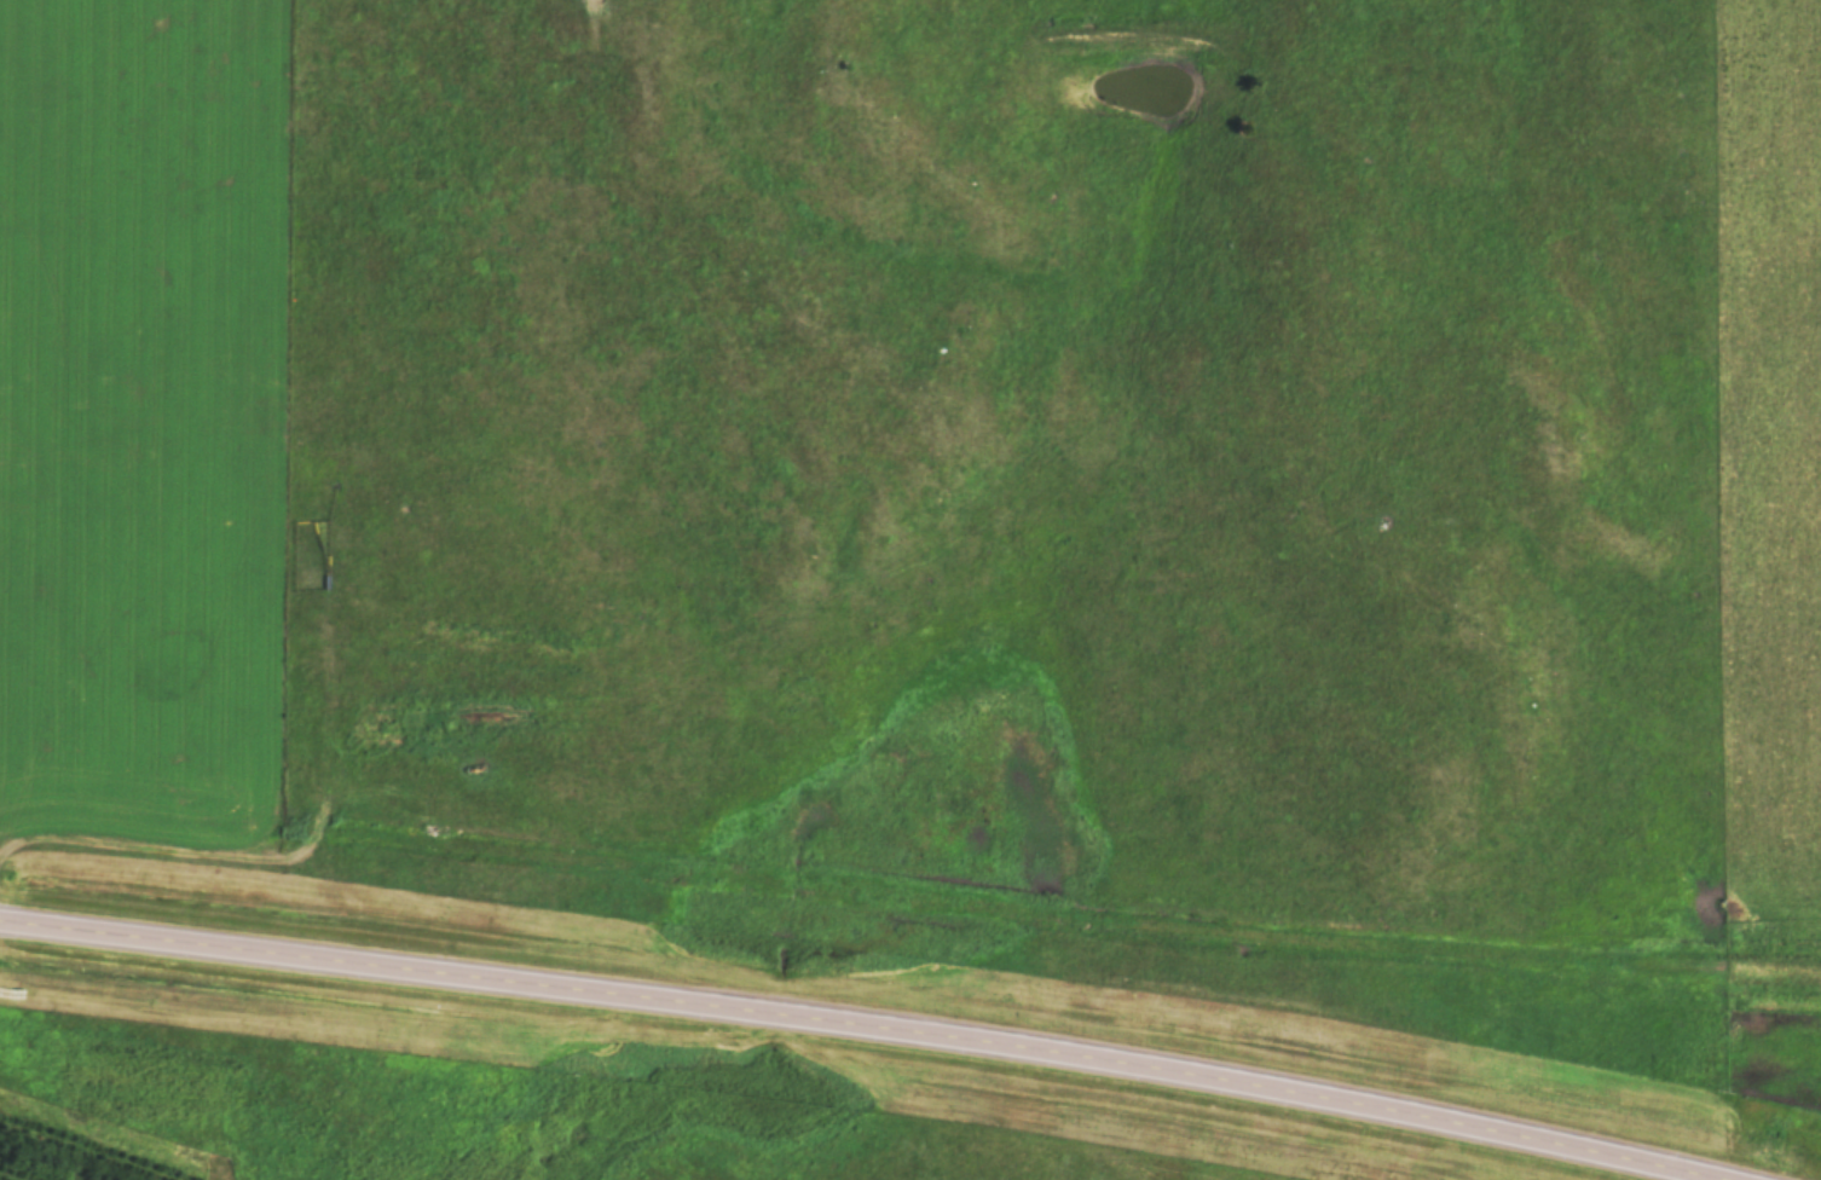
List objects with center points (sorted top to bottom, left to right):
road: (850, 1026)

